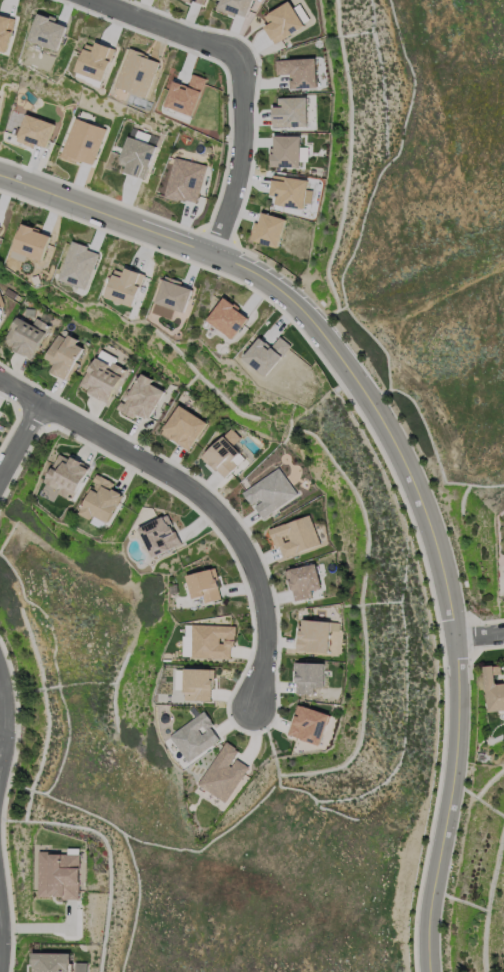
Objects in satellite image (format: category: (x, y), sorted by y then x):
building: (186, 0)
building: (199, 1)
building: (234, 6)
building: (284, 20)
building: (4, 31)
building: (45, 31)
building: (94, 62)
building: (297, 70)
building: (136, 72)
road: (239, 80)
building: (184, 94)
building: (290, 112)
building: (33, 131)
building: (81, 141)
building: (287, 151)
building: (136, 154)
building: (184, 180)
building: (288, 190)
building: (0, 226)
building: (267, 230)
building: (28, 243)
building: (77, 265)
building: (124, 286)
building: (171, 299)
building: (1, 303)
building: (227, 318)
building: (25, 336)
building: (266, 355)
building: (63, 357)
building: (101, 379)
building: (140, 399)
building: (182, 429)
road: (21, 440)
building: (223, 454)
road: (403, 464)
building: (63, 475)
building: (269, 492)
road: (201, 498)
building: (98, 499)
building: (156, 536)
building: (293, 536)
building: (301, 581)
building: (201, 586)
road: (480, 633)
building: (313, 635)
building: (206, 640)
building: (307, 677)
building: (194, 685)
building: (492, 687)
road: (2, 723)
building: (306, 725)
building: (193, 737)
building: (221, 774)
building: (55, 875)
building: (44, 962)
building: (77, 967)

